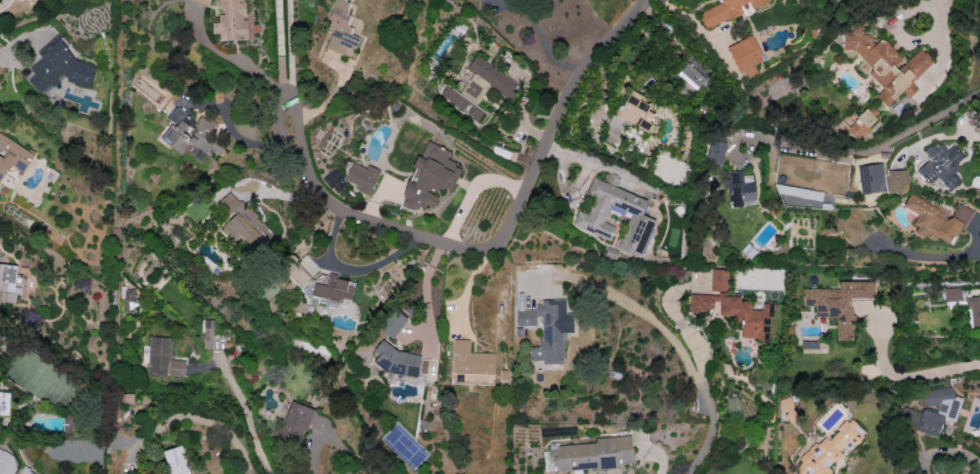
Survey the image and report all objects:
road: (0, 0)
building: (201, 1)
building: (726, 11)
road: (937, 20)
building: (230, 21)
building: (337, 37)
road: (542, 38)
road: (280, 47)
road: (290, 47)
road: (15, 52)
road: (229, 56)
building: (745, 56)
building: (887, 64)
building: (57, 68)
building: (491, 76)
building: (690, 76)
building: (463, 99)
building: (636, 110)
building: (860, 124)
building: (188, 134)
road: (875, 146)
building: (715, 152)
building: (12, 155)
building: (941, 165)
building: (429, 176)
building: (361, 177)
building: (871, 178)
building: (897, 180)
building: (740, 188)
building: (800, 195)
building: (590, 217)
building: (936, 219)
building: (243, 224)
road: (492, 245)
road: (924, 256)
road: (354, 269)
building: (298, 275)
building: (719, 280)
building: (8, 283)
road: (470, 288)
building: (331, 289)
building: (952, 294)
road: (427, 297)
building: (129, 300)
building: (838, 303)
building: (735, 312)
building: (974, 312)
road: (646, 318)
building: (393, 323)
building: (547, 329)
building: (207, 334)
building: (163, 358)
building: (470, 359)
building: (397, 360)
road: (702, 364)
road: (902, 376)
building: (786, 407)
road: (245, 413)
building: (929, 415)
road: (192, 417)
building: (296, 421)
road: (703, 446)
building: (829, 449)
building: (589, 455)
building: (177, 460)
building: (7, 462)
building: (25, 471)

